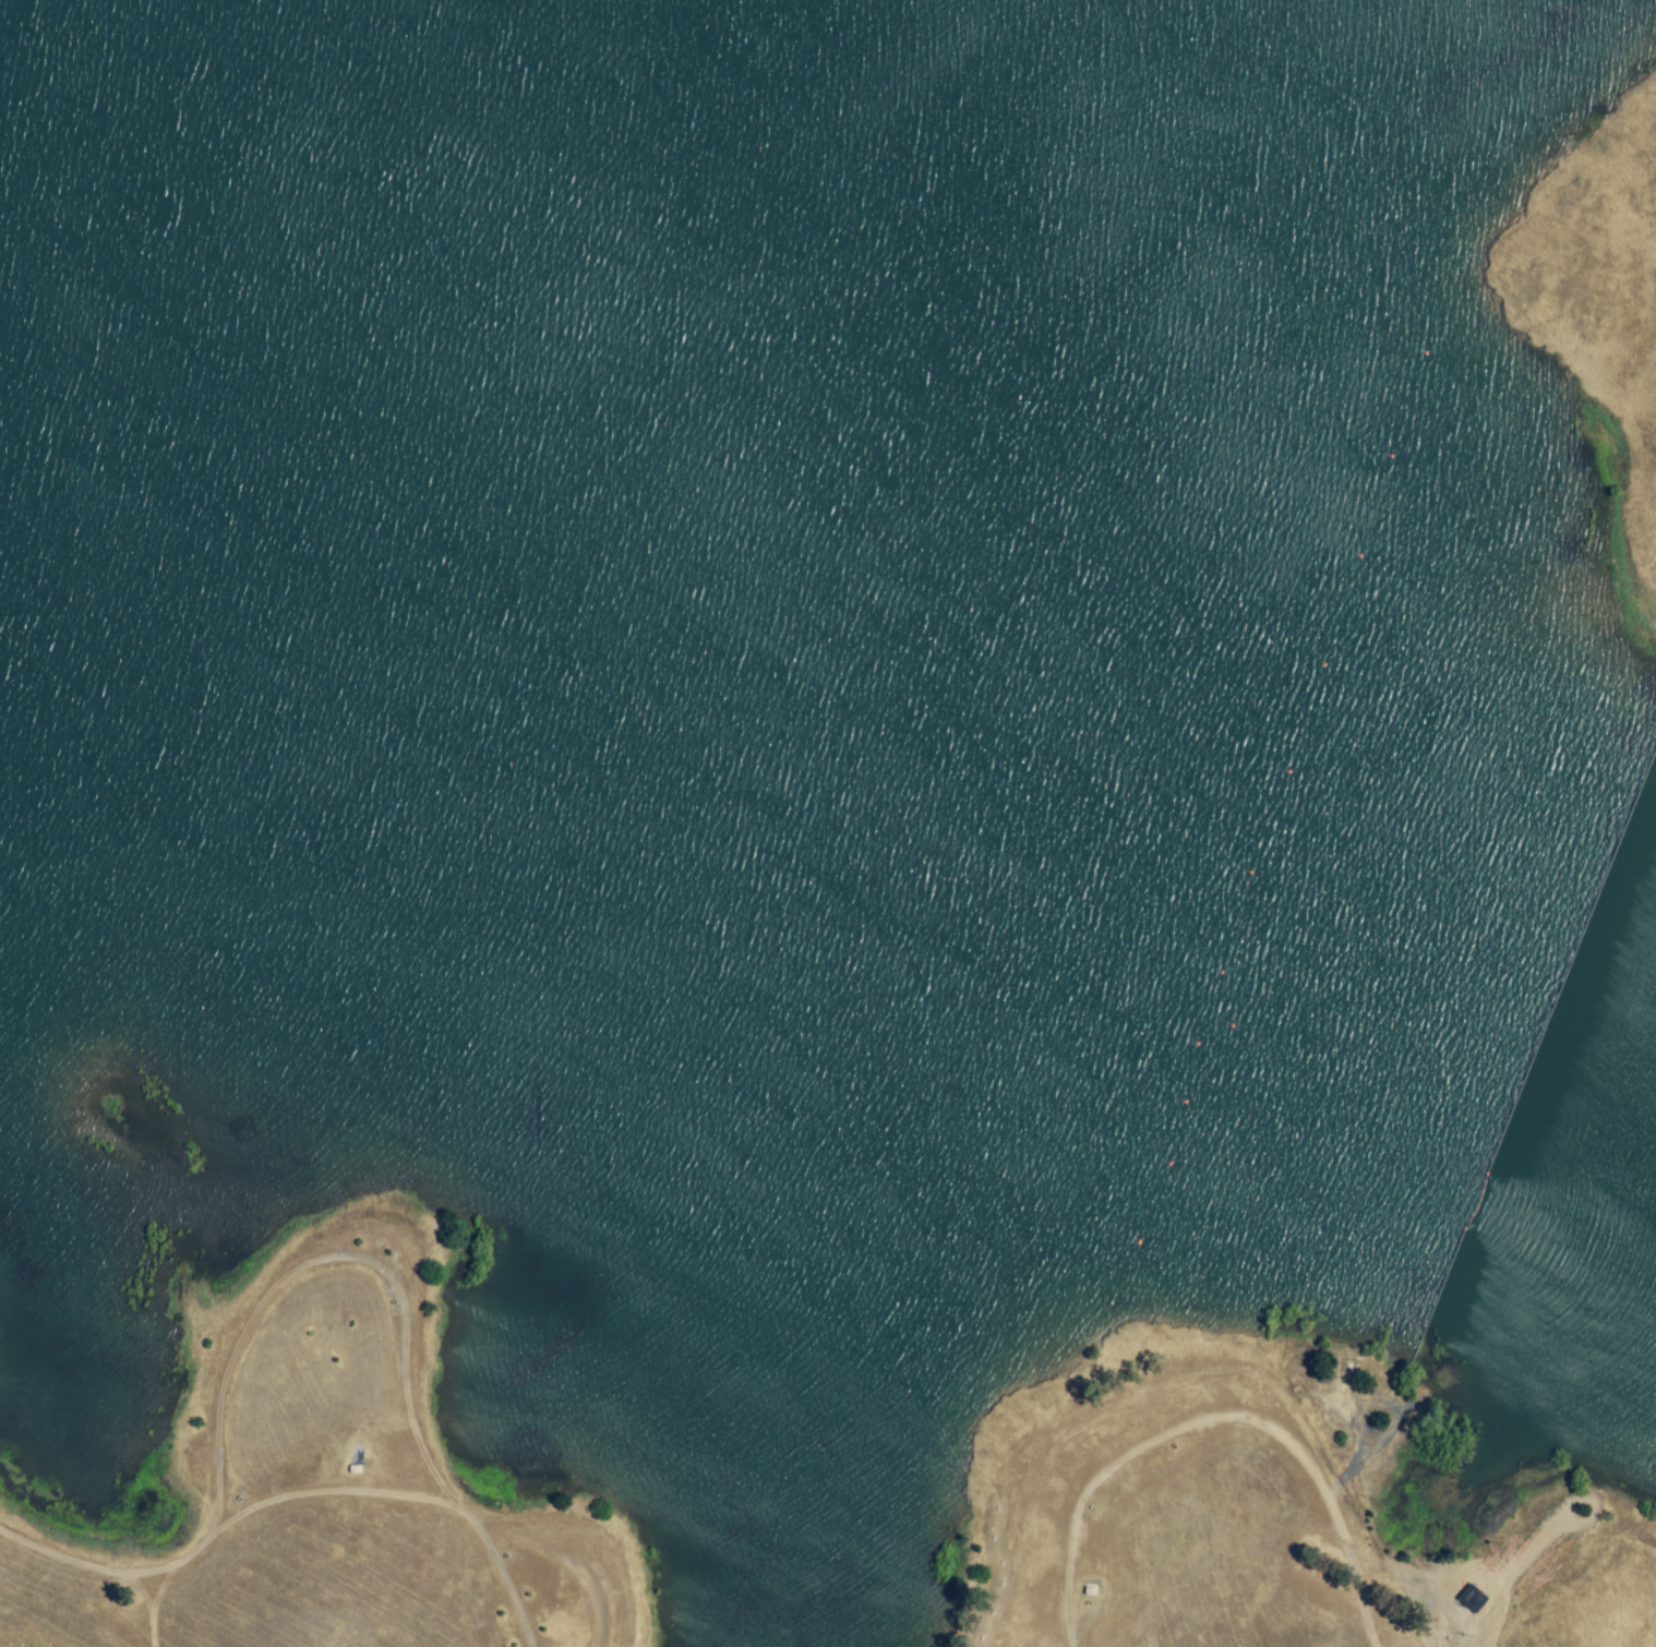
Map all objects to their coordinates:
road: (1211, 1417)
building: (1469, 1597)

